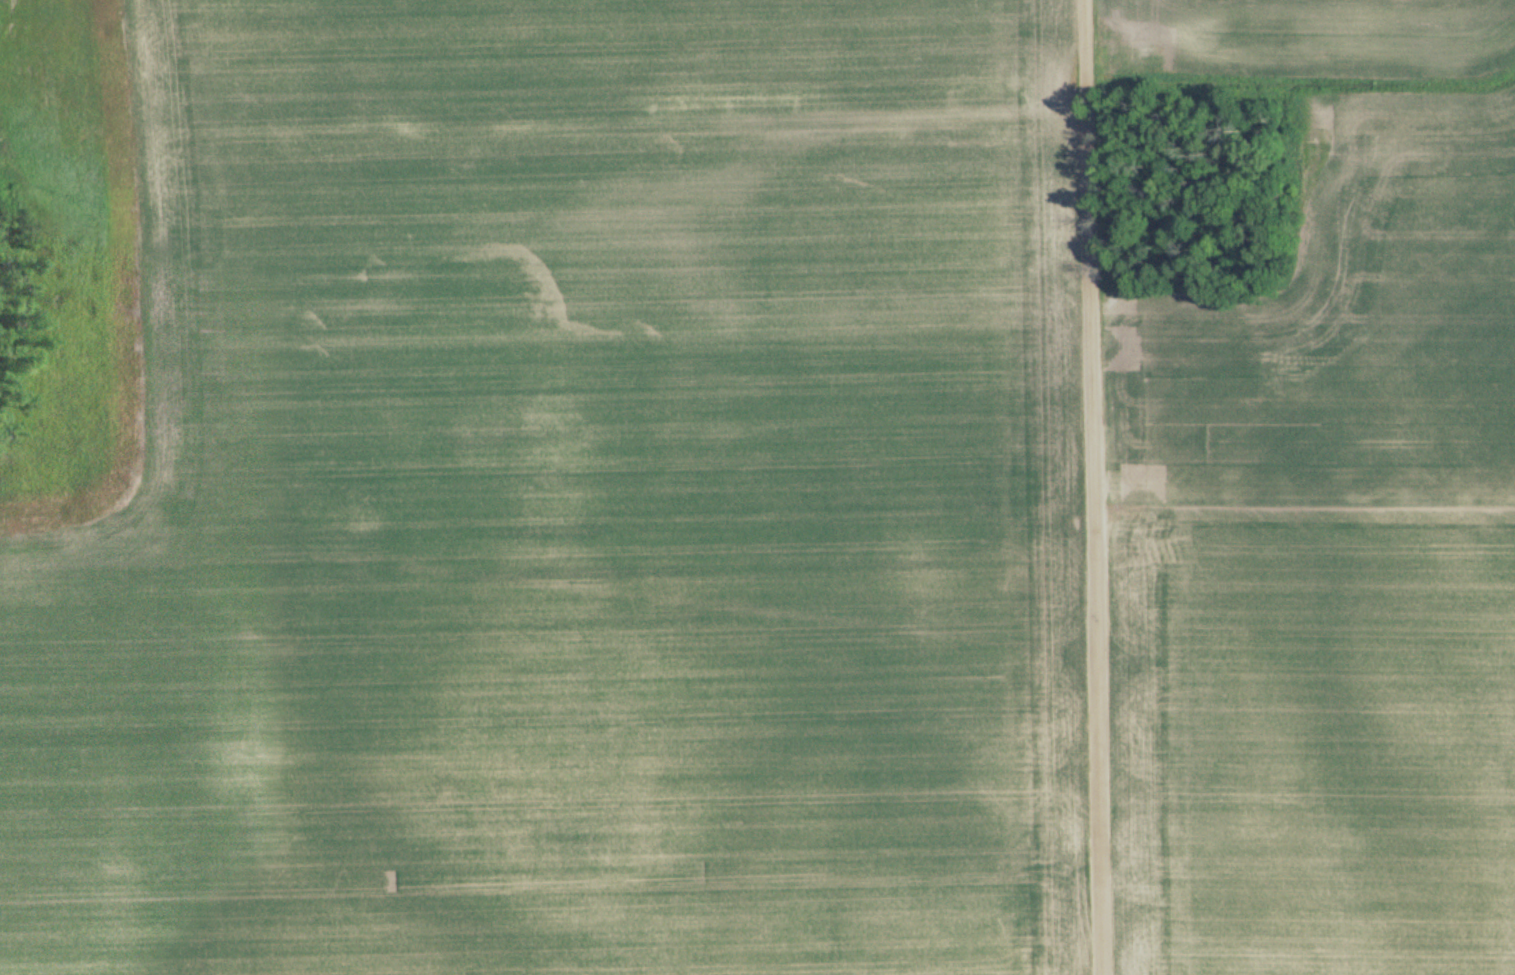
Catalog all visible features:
road: (1084, 487)

